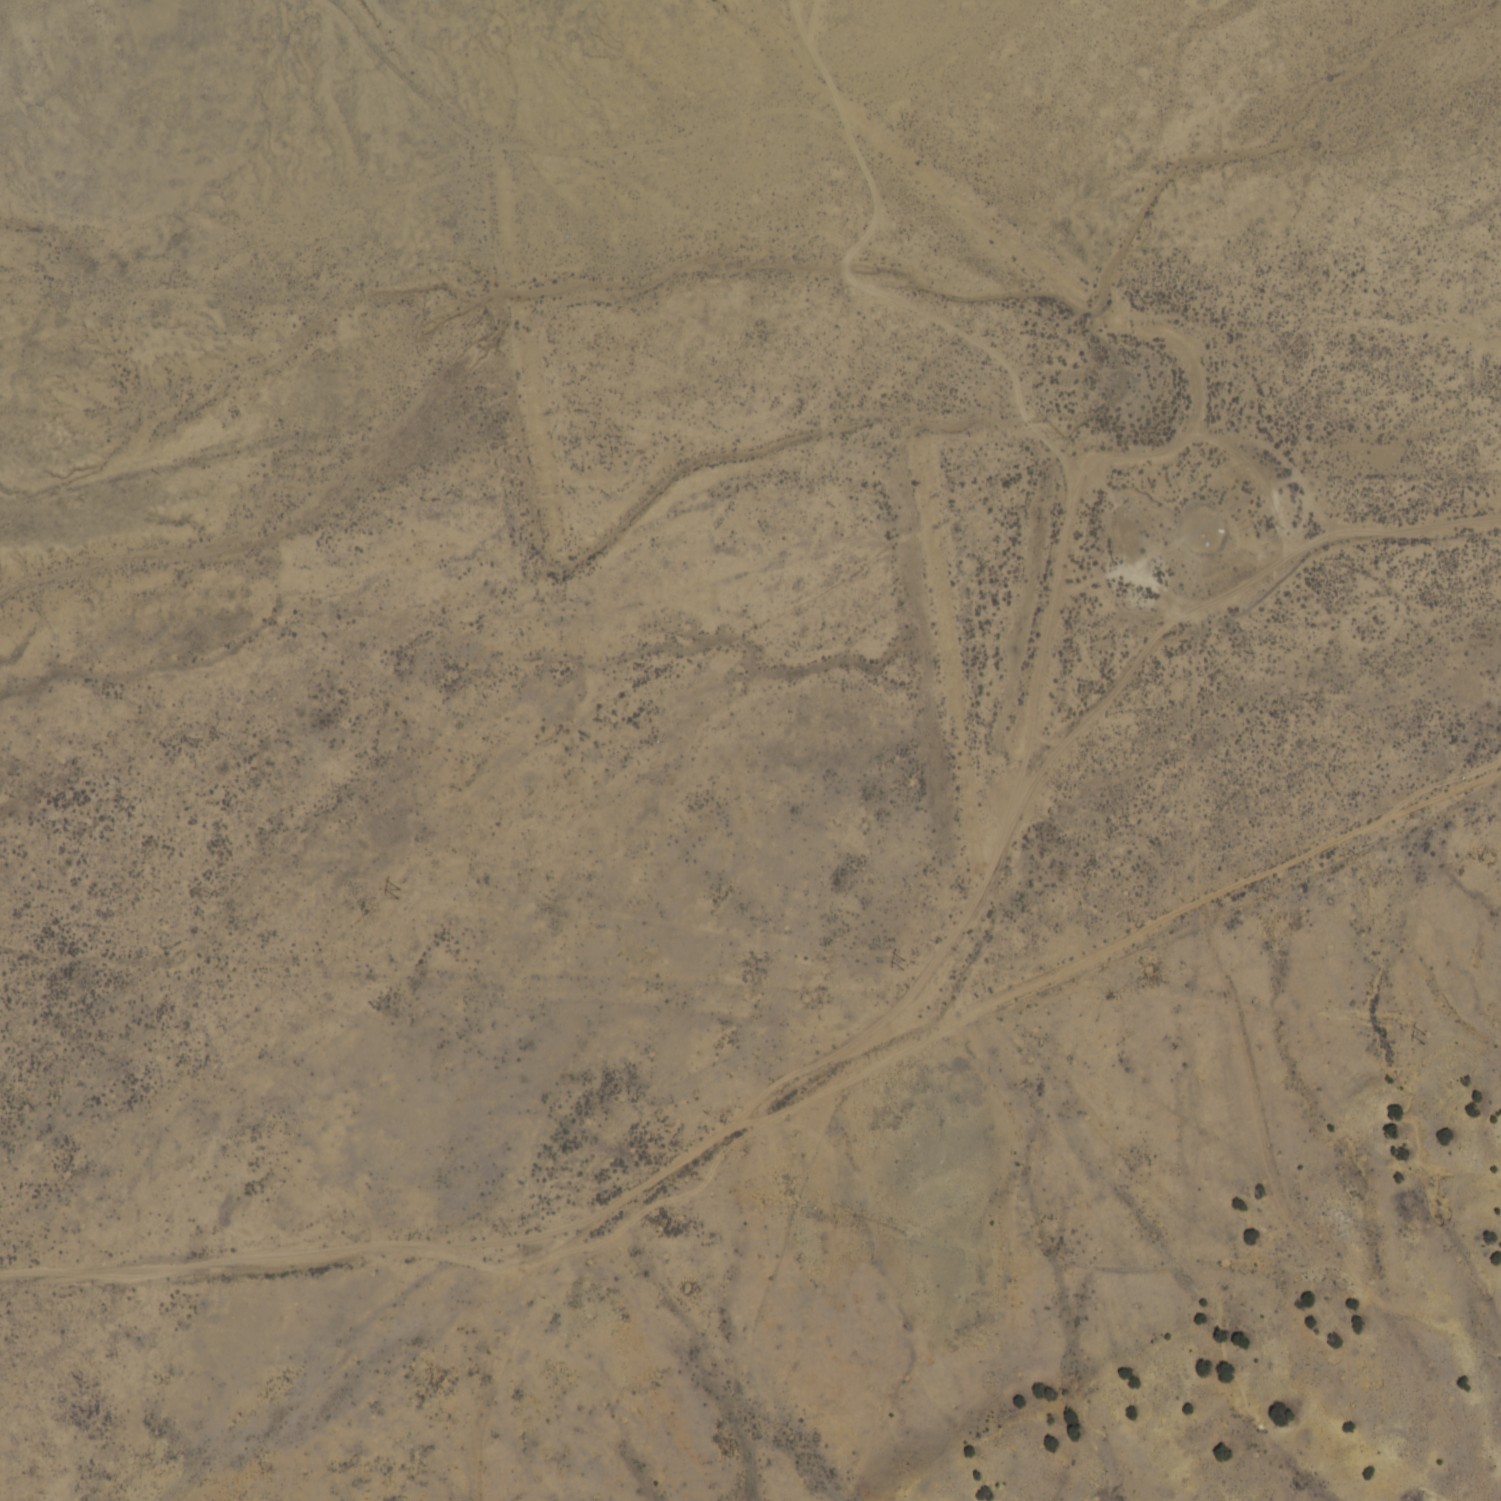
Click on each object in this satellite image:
power tower: (398, 893)
power tower: (903, 964)
power tower: (1426, 1040)
road: (948, 1059)
road: (1187, 1167)
road: (735, 1229)

